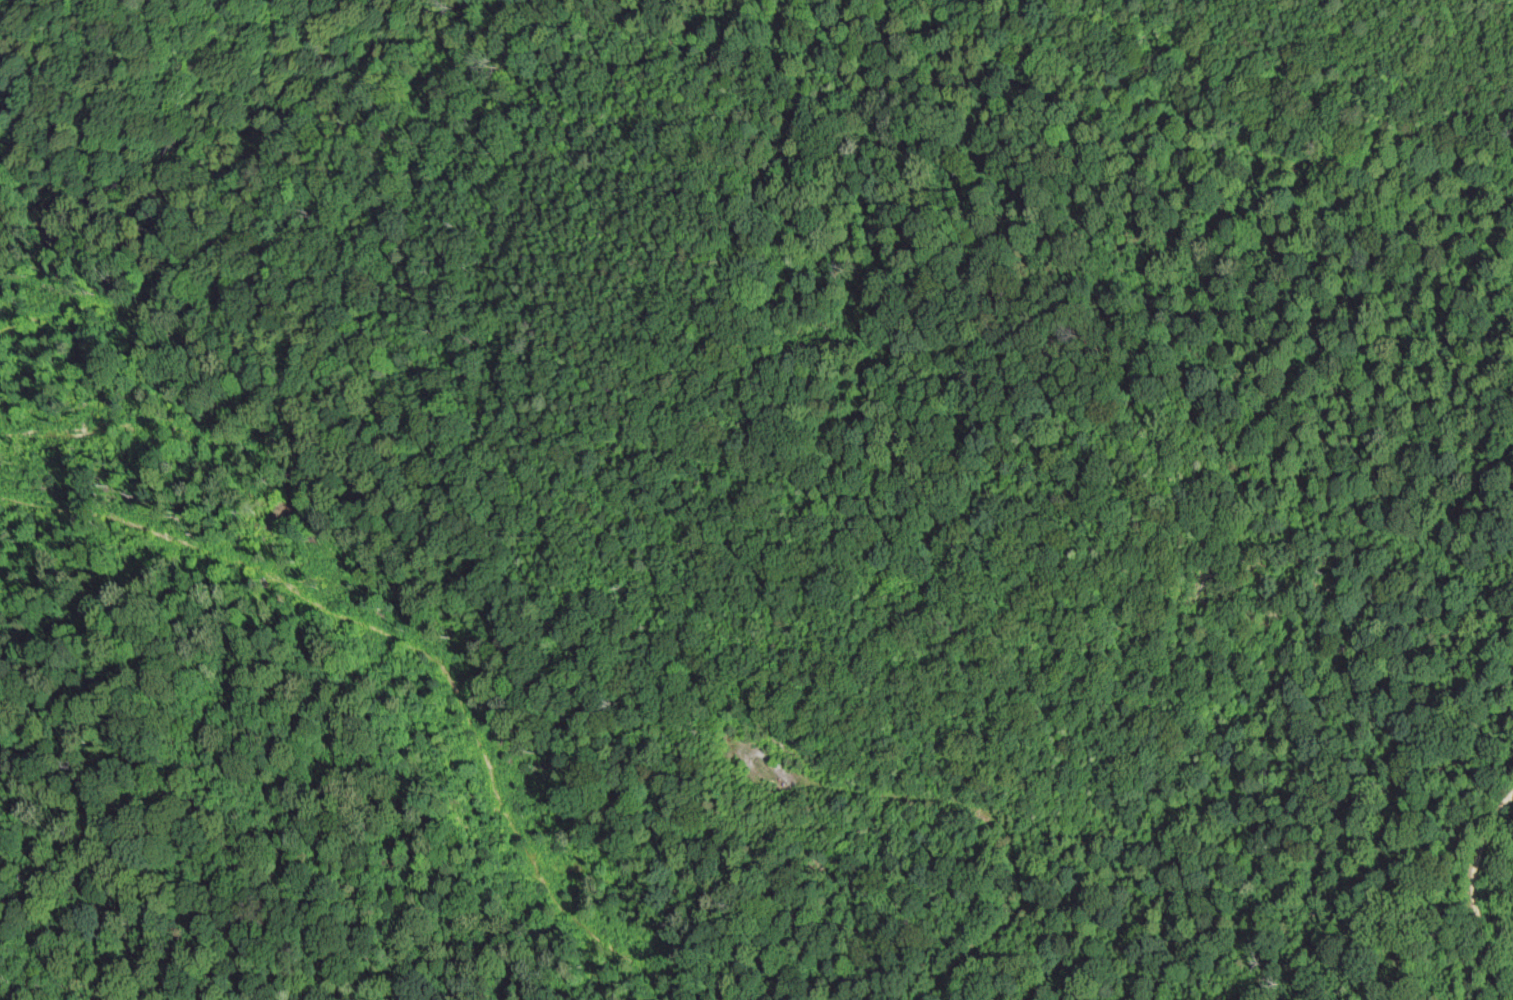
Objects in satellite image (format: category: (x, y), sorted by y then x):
road: (316, 540)

